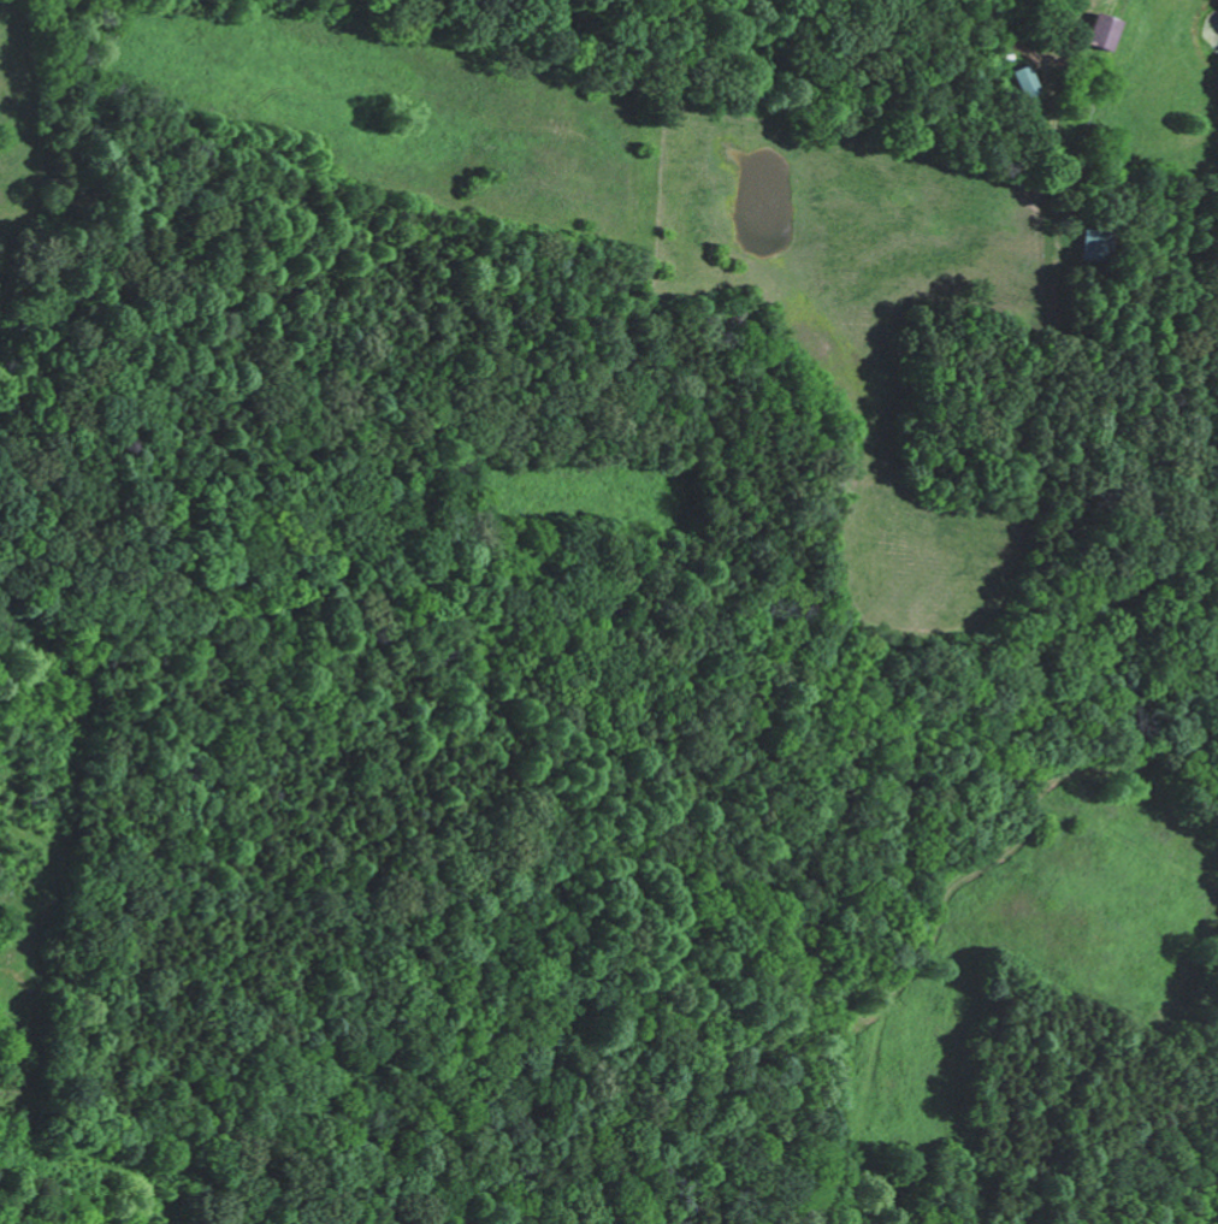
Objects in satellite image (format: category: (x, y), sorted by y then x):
building: (1102, 31)
building: (1029, 81)
building: (1098, 244)

